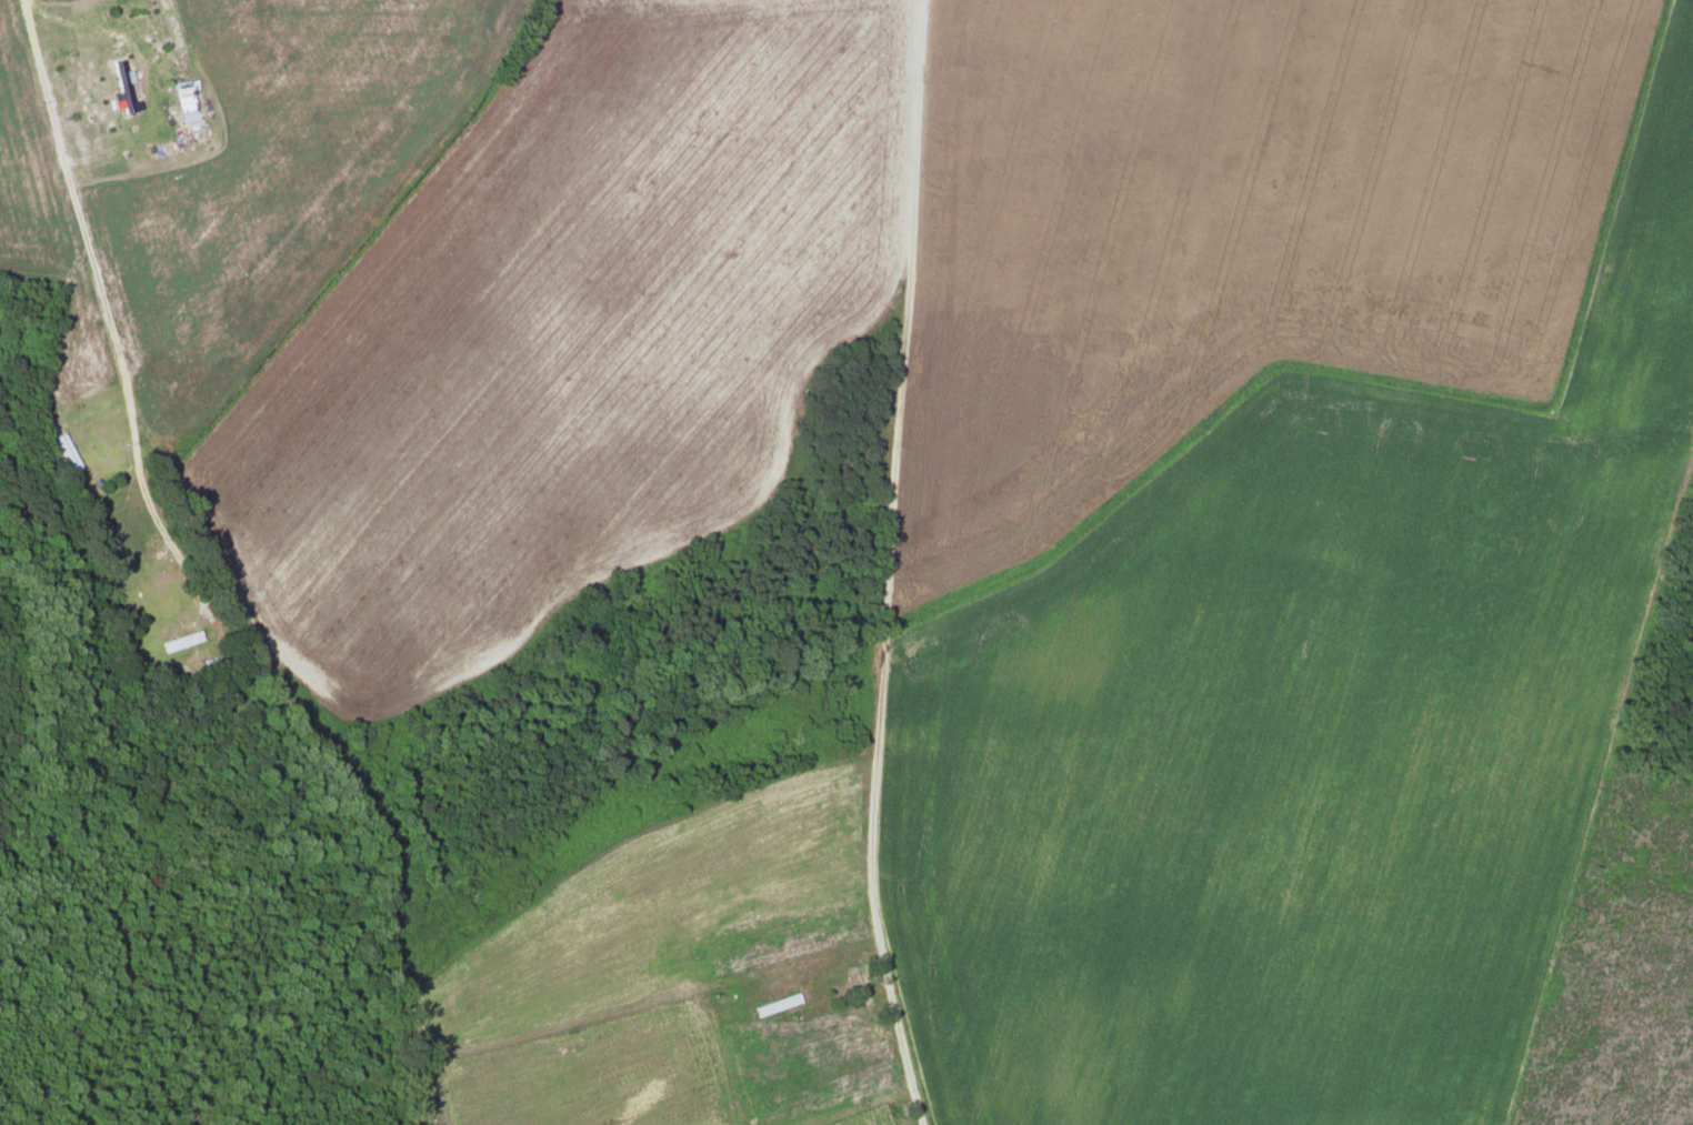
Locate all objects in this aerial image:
building: (123, 86)
building: (184, 101)
building: (181, 641)

